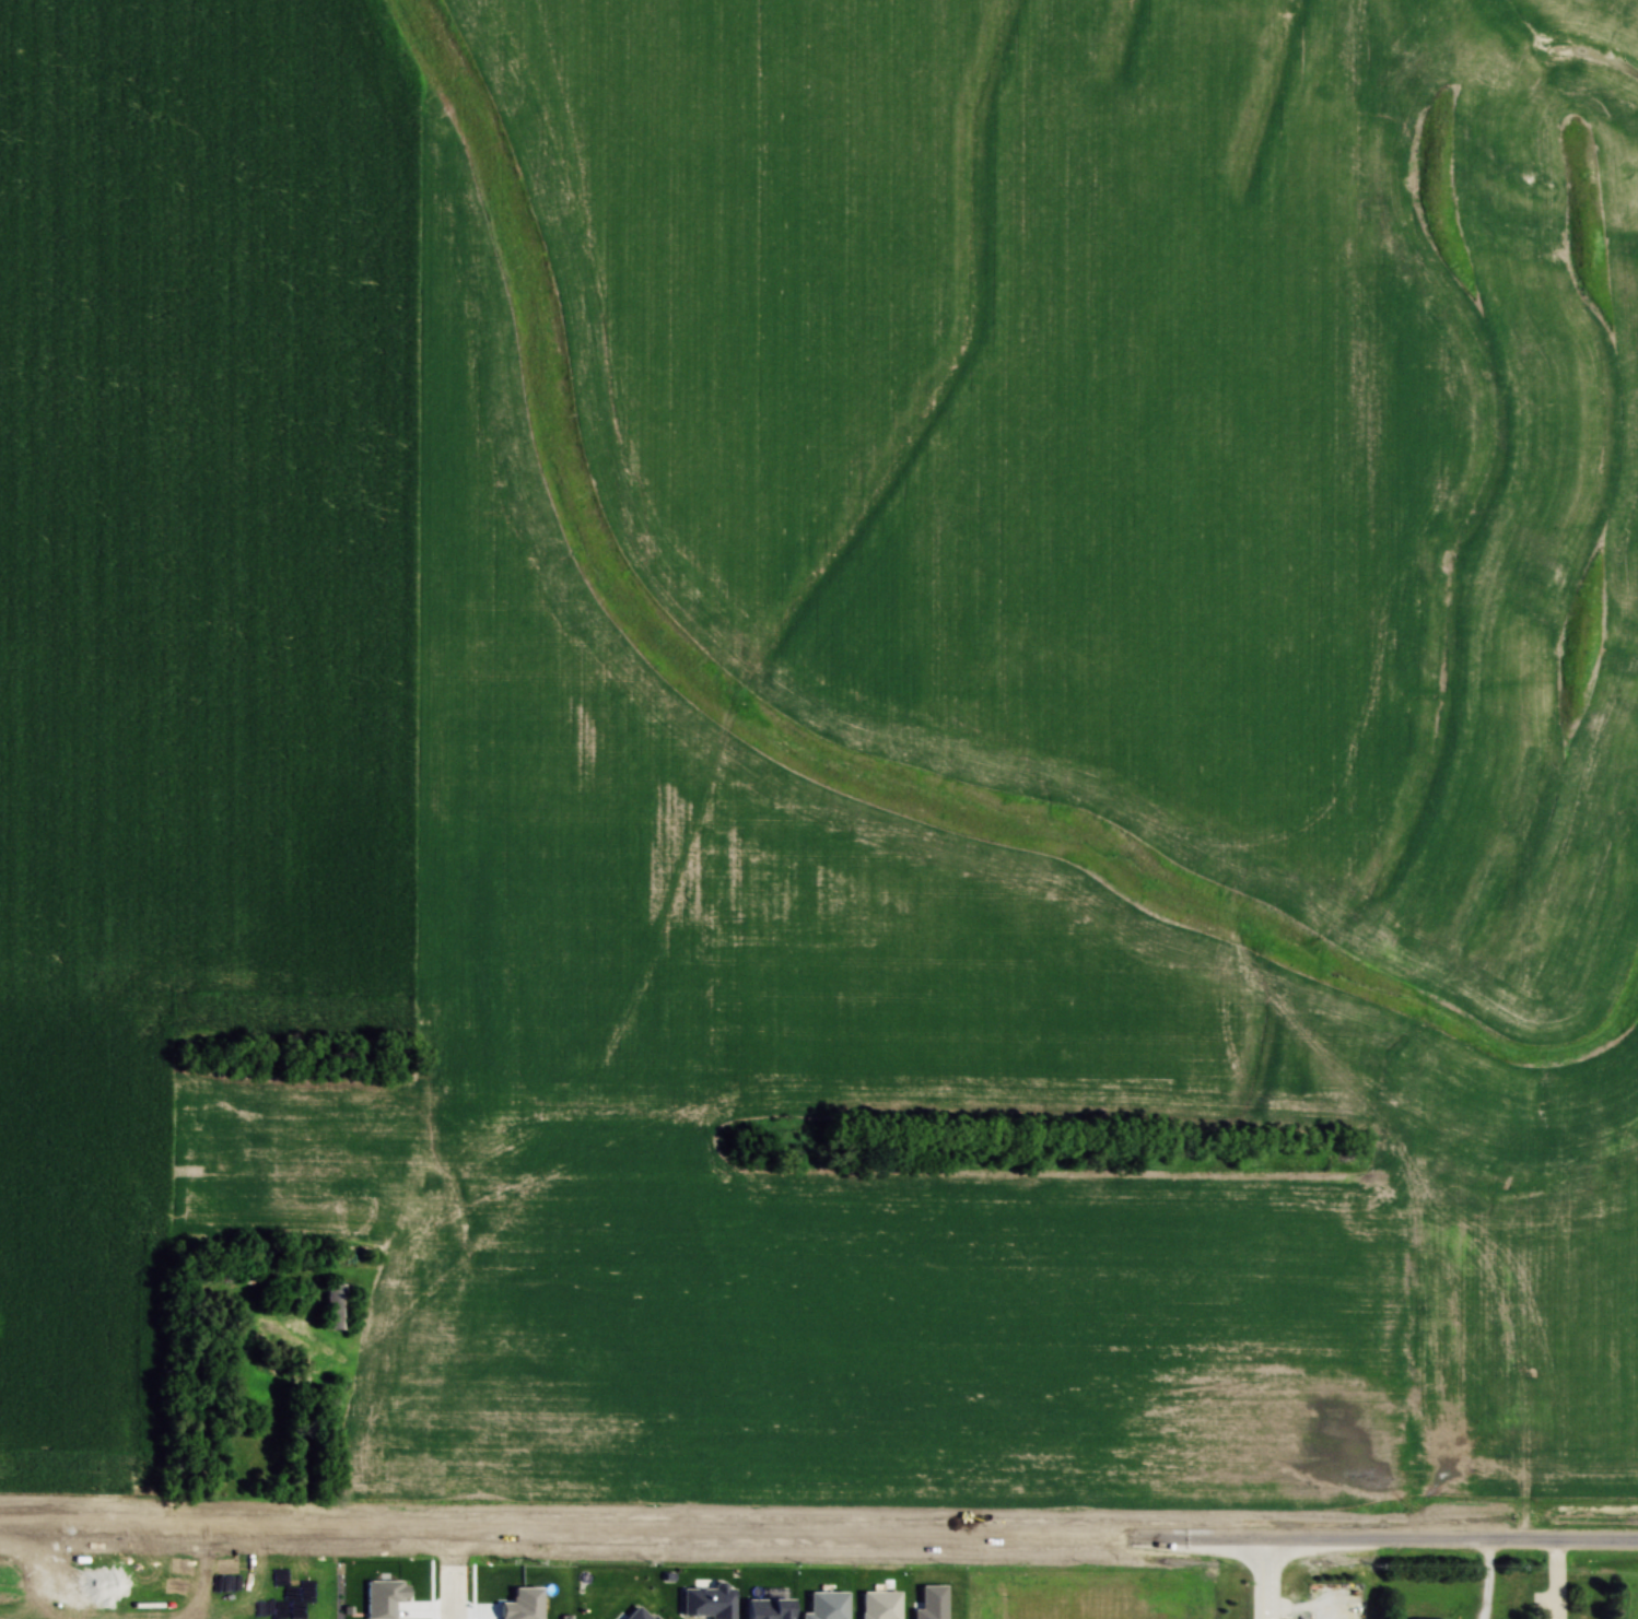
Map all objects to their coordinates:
building: (335, 1306)
road: (818, 1538)
road: (455, 1575)
road: (1274, 1579)

